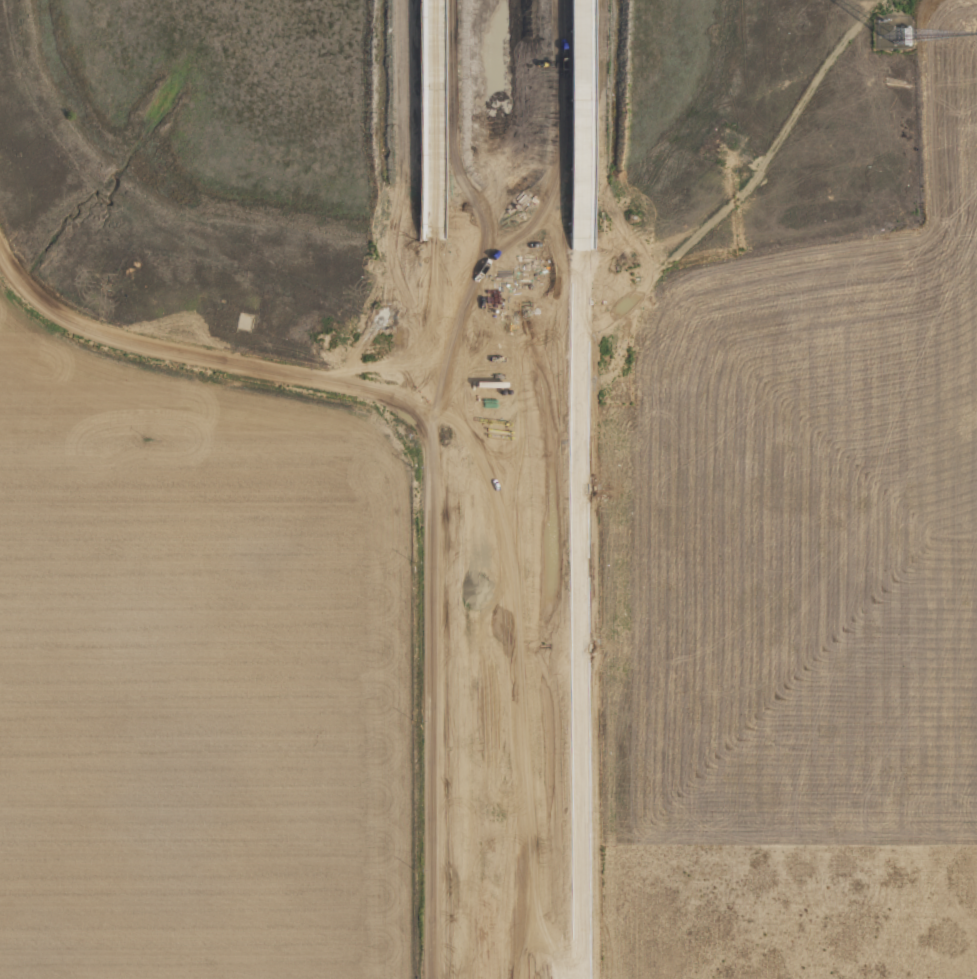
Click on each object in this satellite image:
road: (429, 221)
road: (211, 353)
road: (581, 489)
road: (432, 710)

